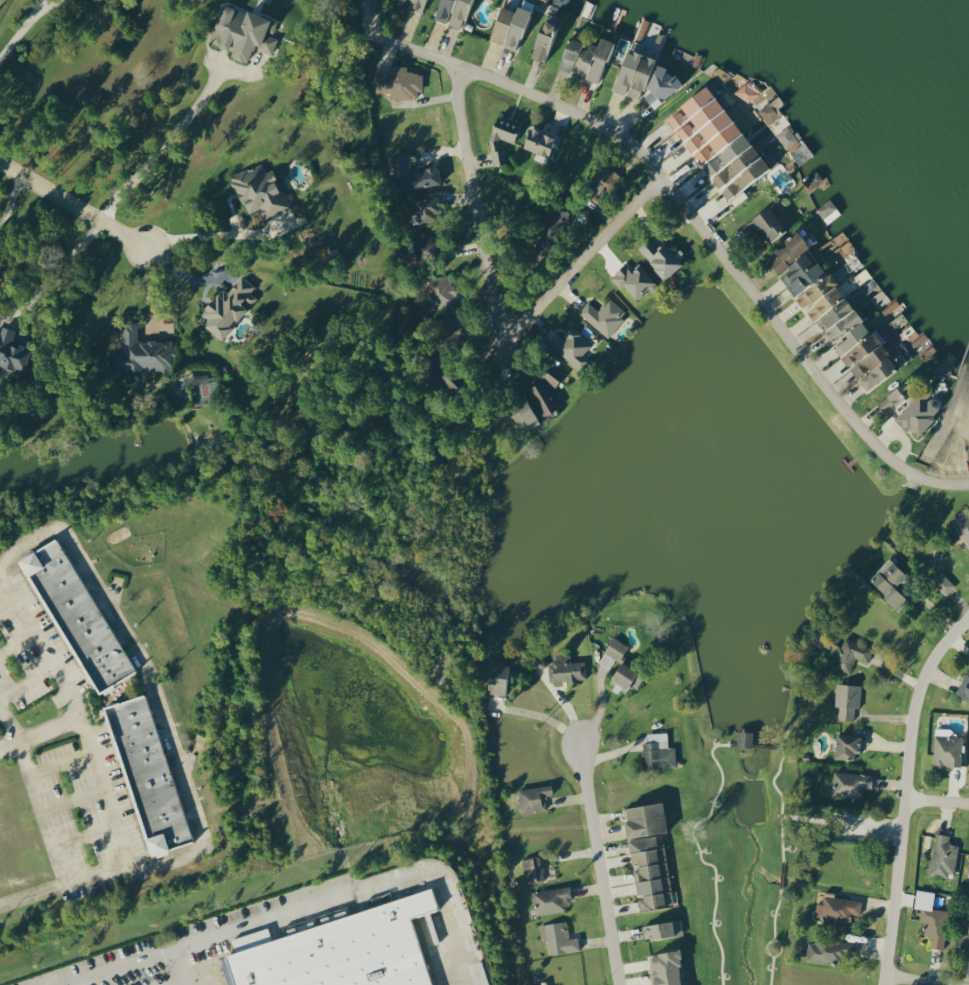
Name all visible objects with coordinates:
building: (416, 5)
building: (453, 12)
building: (509, 26)
road: (21, 27)
building: (242, 32)
building: (543, 40)
building: (585, 58)
building: (633, 74)
building: (399, 82)
building: (660, 86)
building: (749, 90)
building: (771, 111)
building: (502, 136)
building: (787, 137)
building: (540, 141)
building: (717, 142)
road: (166, 150)
building: (412, 174)
building: (605, 179)
building: (812, 181)
building: (259, 190)
road: (9, 195)
road: (68, 206)
building: (428, 208)
building: (768, 224)
road: (696, 225)
building: (550, 228)
road: (190, 236)
building: (431, 244)
building: (660, 258)
building: (796, 264)
road: (51, 269)
road: (179, 274)
building: (634, 280)
building: (441, 291)
road: (149, 292)
road: (493, 306)
building: (227, 307)
building: (603, 316)
building: (452, 327)
building: (847, 332)
building: (572, 348)
building: (13, 350)
building: (139, 353)
building: (944, 364)
building: (552, 375)
building: (895, 397)
building: (544, 399)
building: (522, 413)
building: (918, 413)
building: (962, 524)
building: (890, 581)
building: (943, 582)
road: (6, 605)
building: (76, 616)
road: (16, 644)
road: (39, 647)
building: (615, 648)
building: (849, 653)
building: (538, 662)
building: (565, 668)
building: (622, 675)
building: (497, 677)
road: (25, 681)
road: (149, 686)
building: (964, 686)
building: (847, 699)
road: (601, 707)
road: (538, 715)
road: (5, 727)
road: (44, 727)
building: (744, 737)
road: (5, 740)
building: (847, 745)
building: (946, 747)
building: (657, 752)
road: (56, 764)
building: (147, 775)
building: (851, 783)
road: (900, 790)
building: (534, 797)
road: (934, 801)
road: (68, 802)
road: (79, 837)
park: (756, 846)
building: (648, 853)
building: (943, 855)
road: (594, 865)
building: (532, 869)
road: (93, 872)
building: (967, 873)
road: (347, 899)
building: (550, 899)
building: (838, 908)
building: (934, 925)
building: (662, 928)
building: (965, 936)
building: (557, 937)
parking lot: (306, 941)
building: (826, 951)
building: (341, 954)
road: (138, 966)
building: (666, 967)
road: (911, 980)

